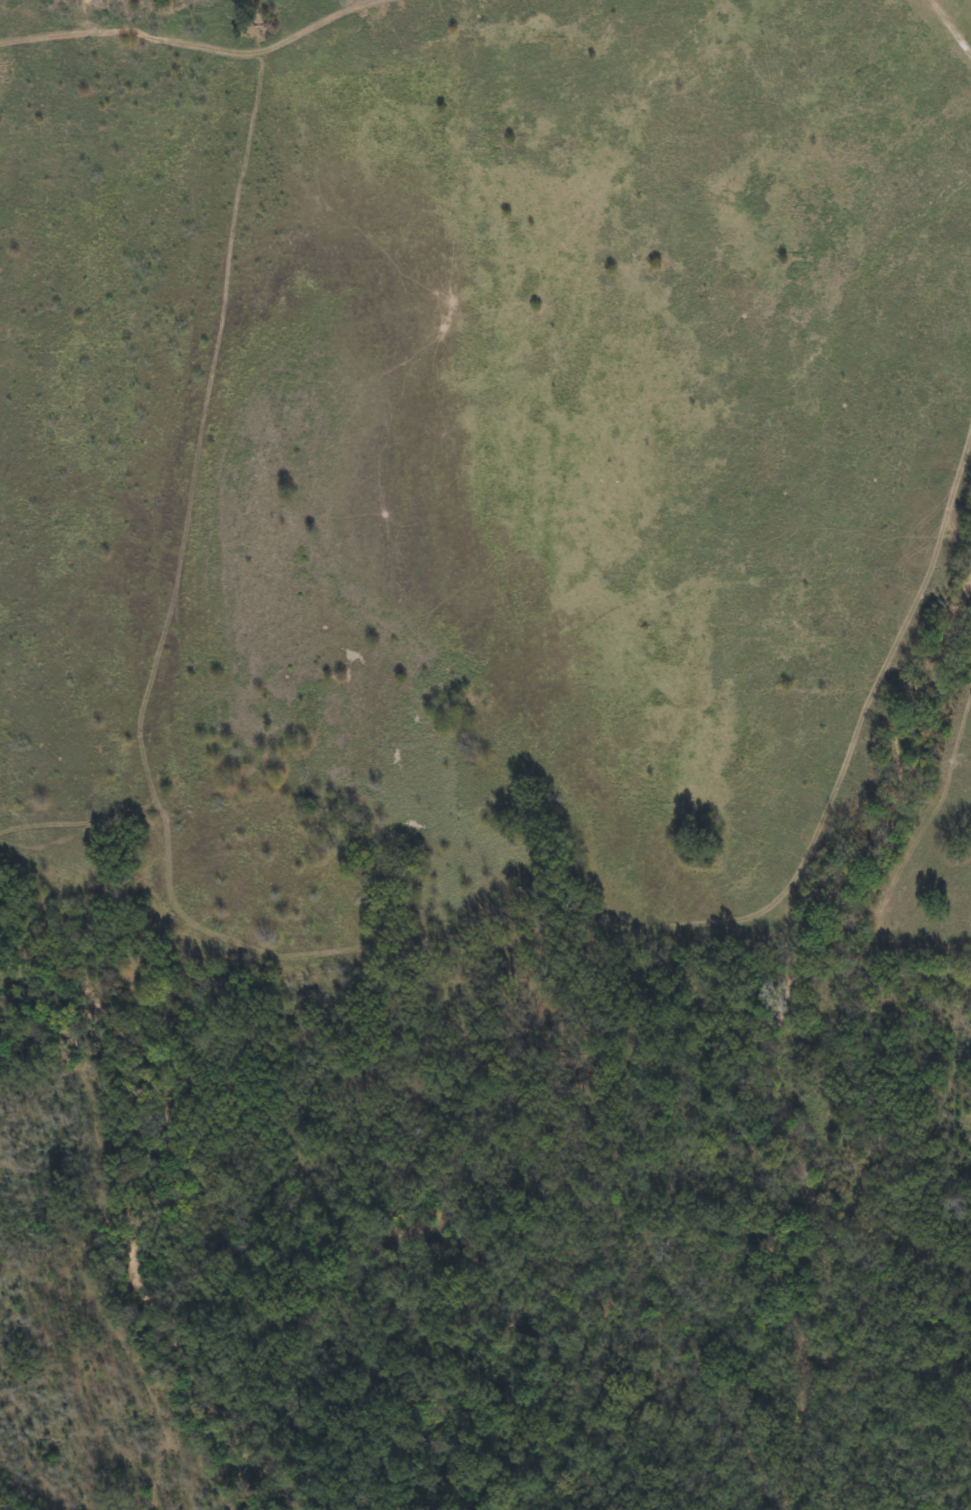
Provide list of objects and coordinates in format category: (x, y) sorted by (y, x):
road: (915, 1165)

